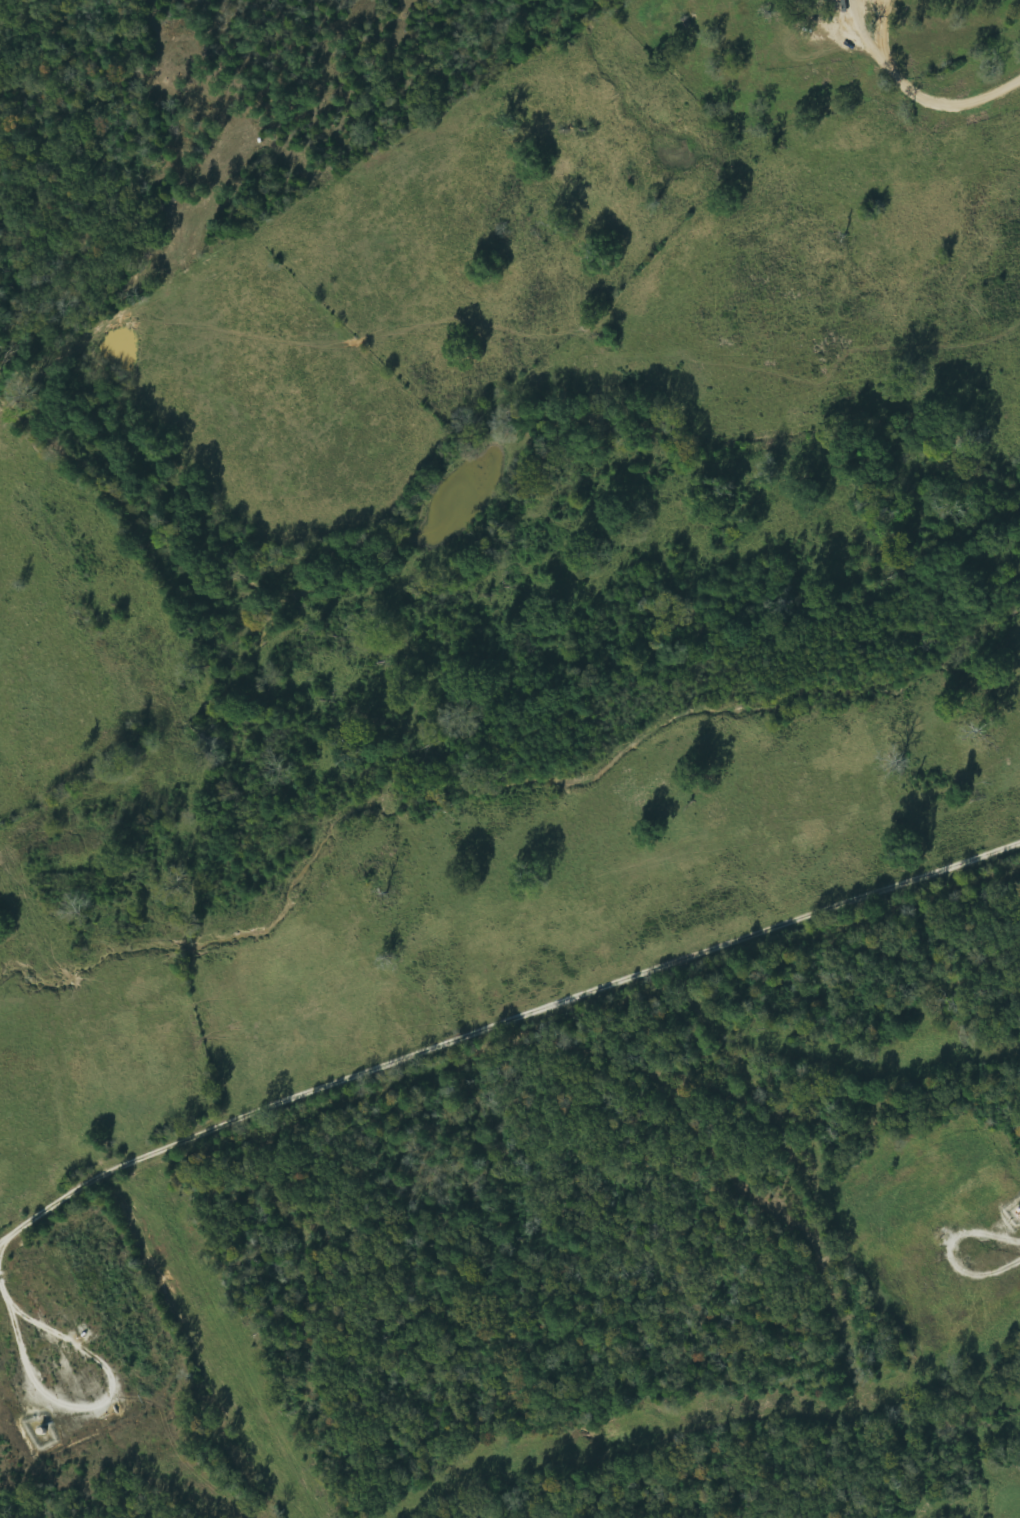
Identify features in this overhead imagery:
road: (502, 1088)

